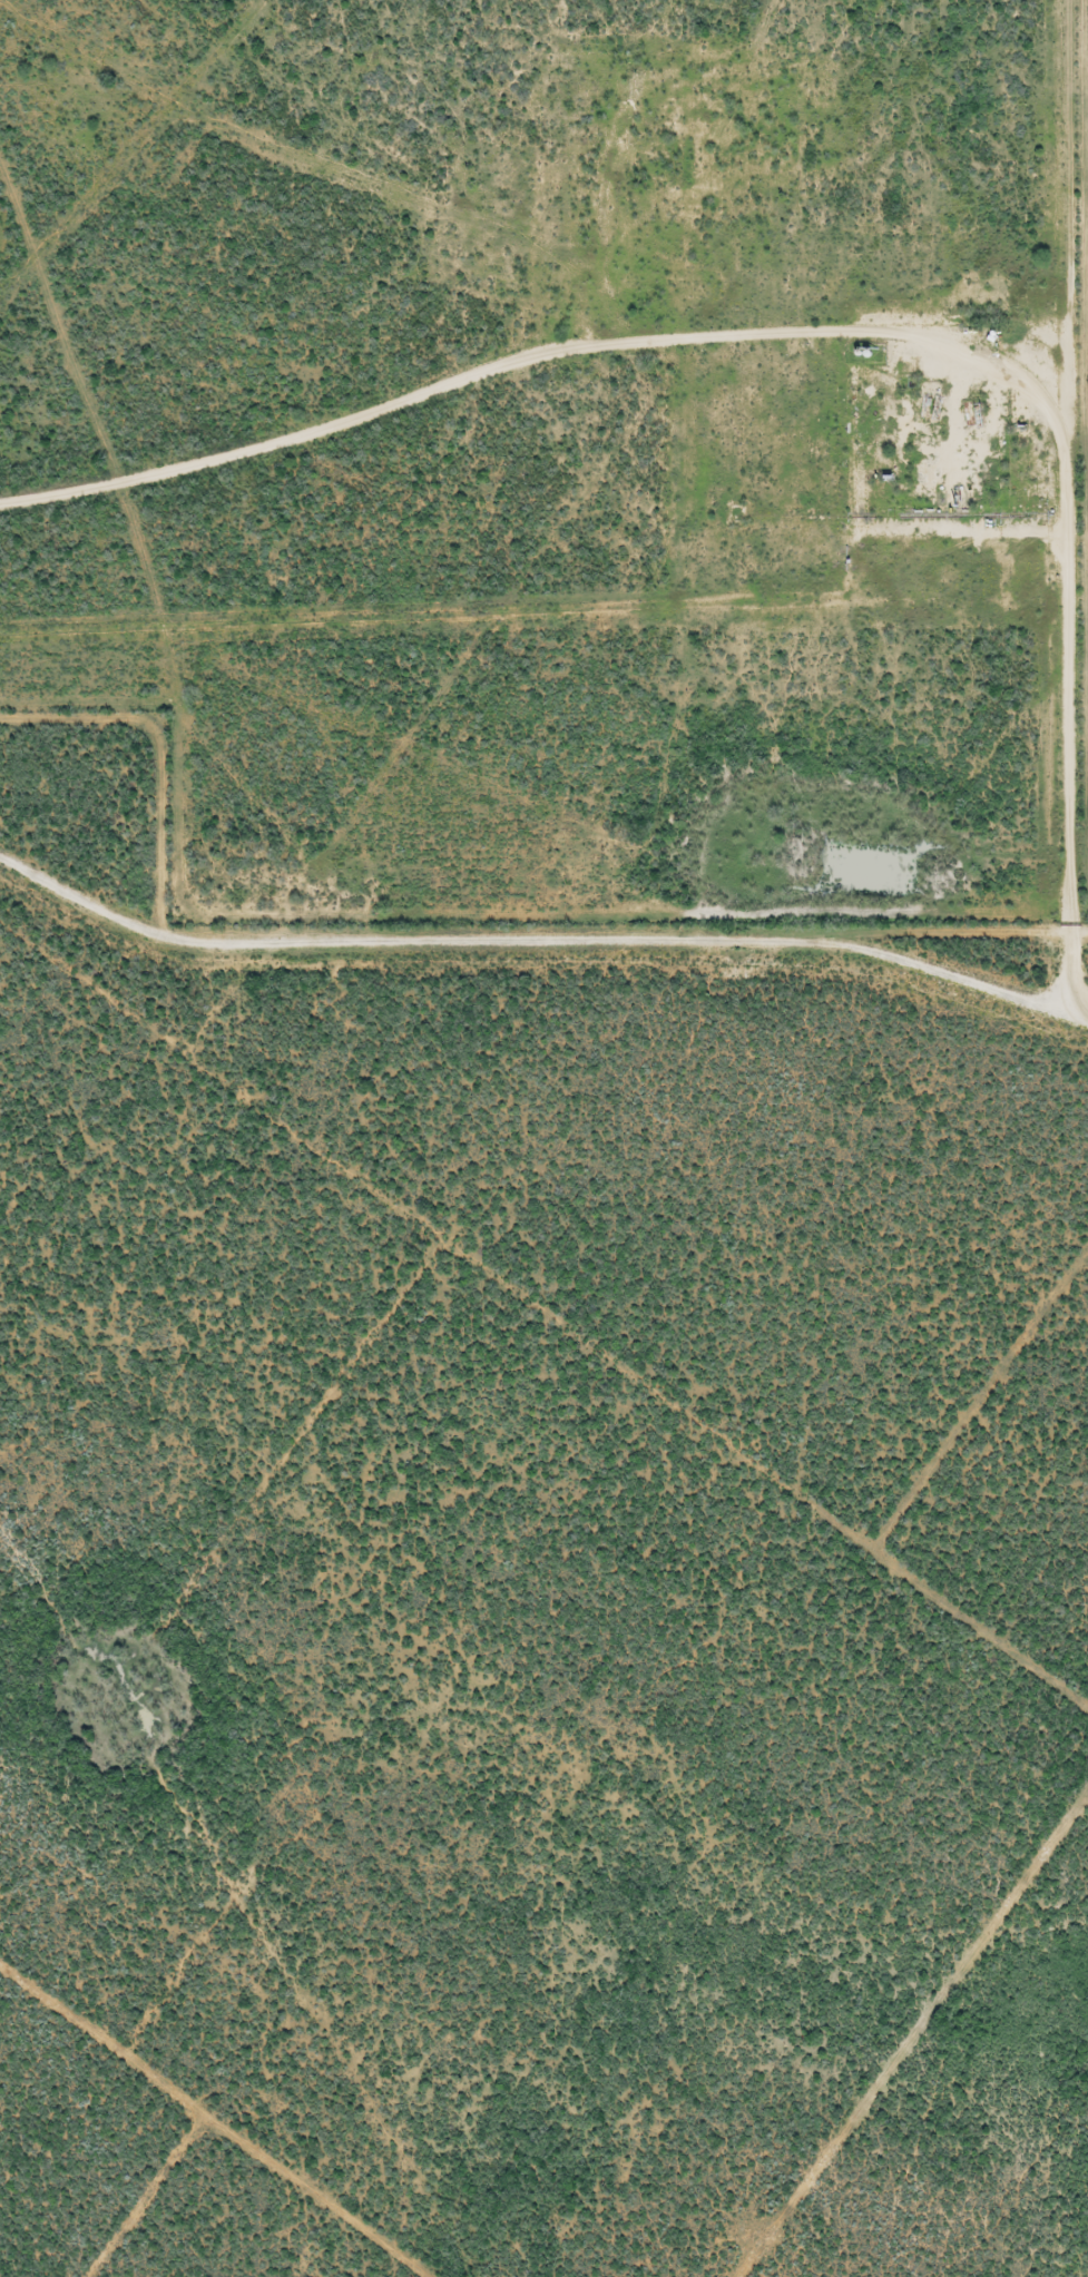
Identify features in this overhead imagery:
road: (87, 787)
road: (247, 975)

